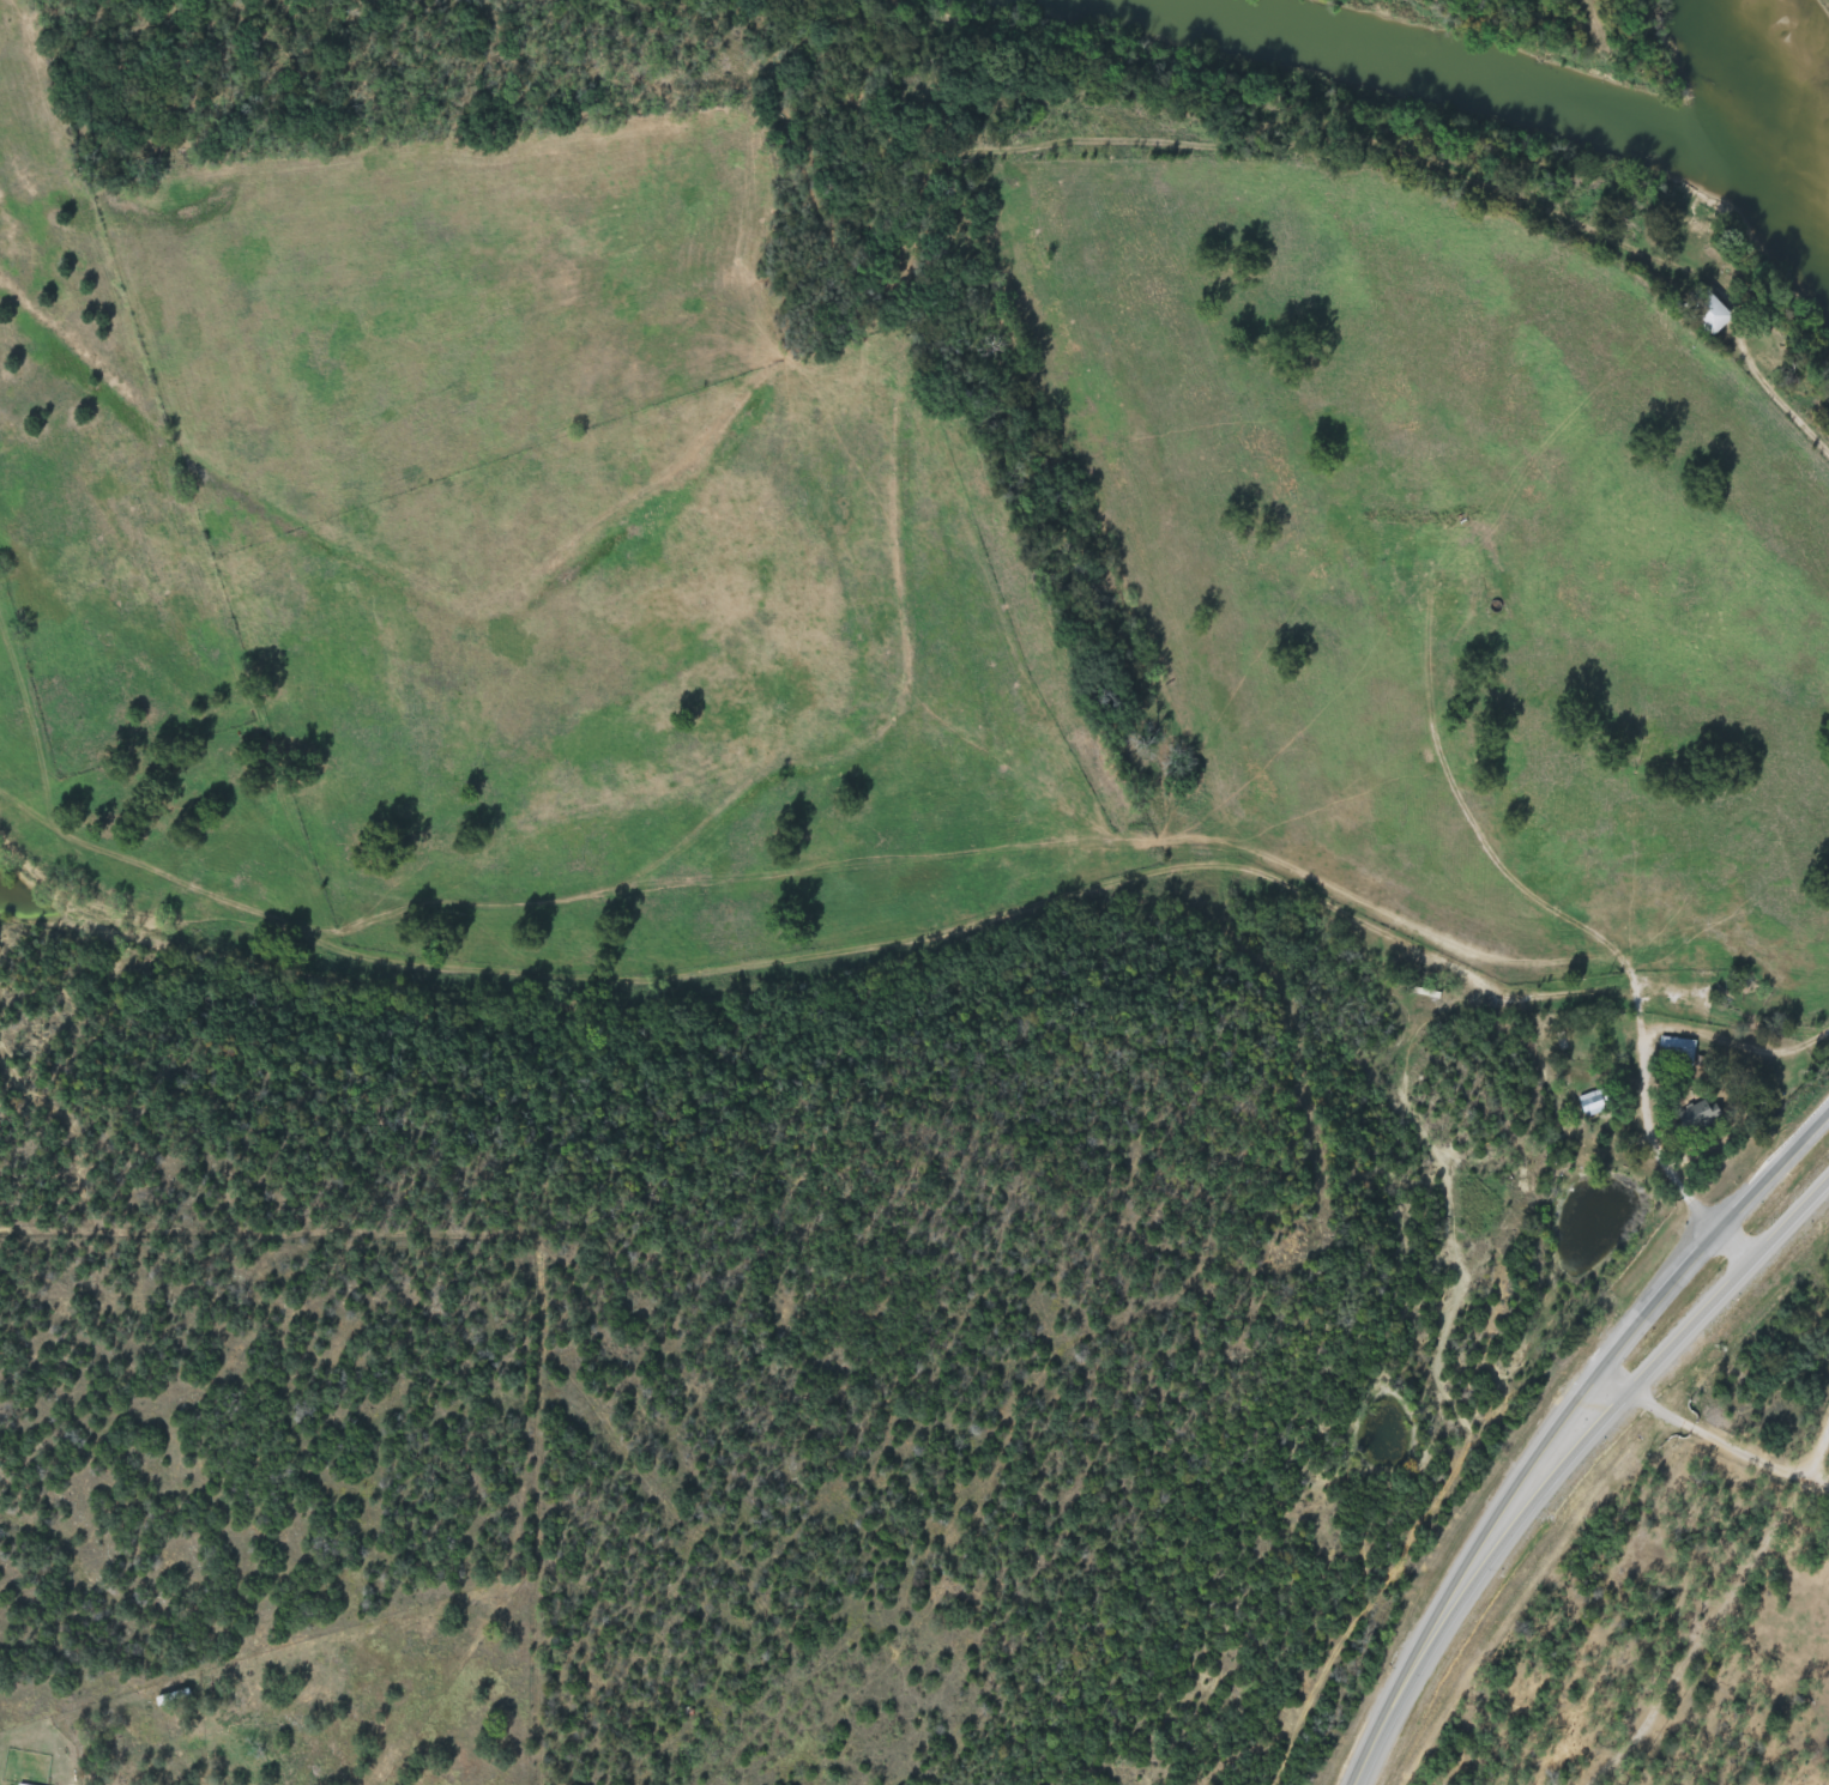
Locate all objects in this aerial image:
river: (1759, 135)
building: (1702, 311)
road: (1611, 948)
building: (1674, 1051)
building: (1592, 1103)
road: (1788, 1216)
road: (1731, 1239)
road: (1623, 1330)
road: (1593, 1415)
road: (1720, 1444)
road: (1818, 1459)
road: (1402, 1684)
building: (22, 1784)

